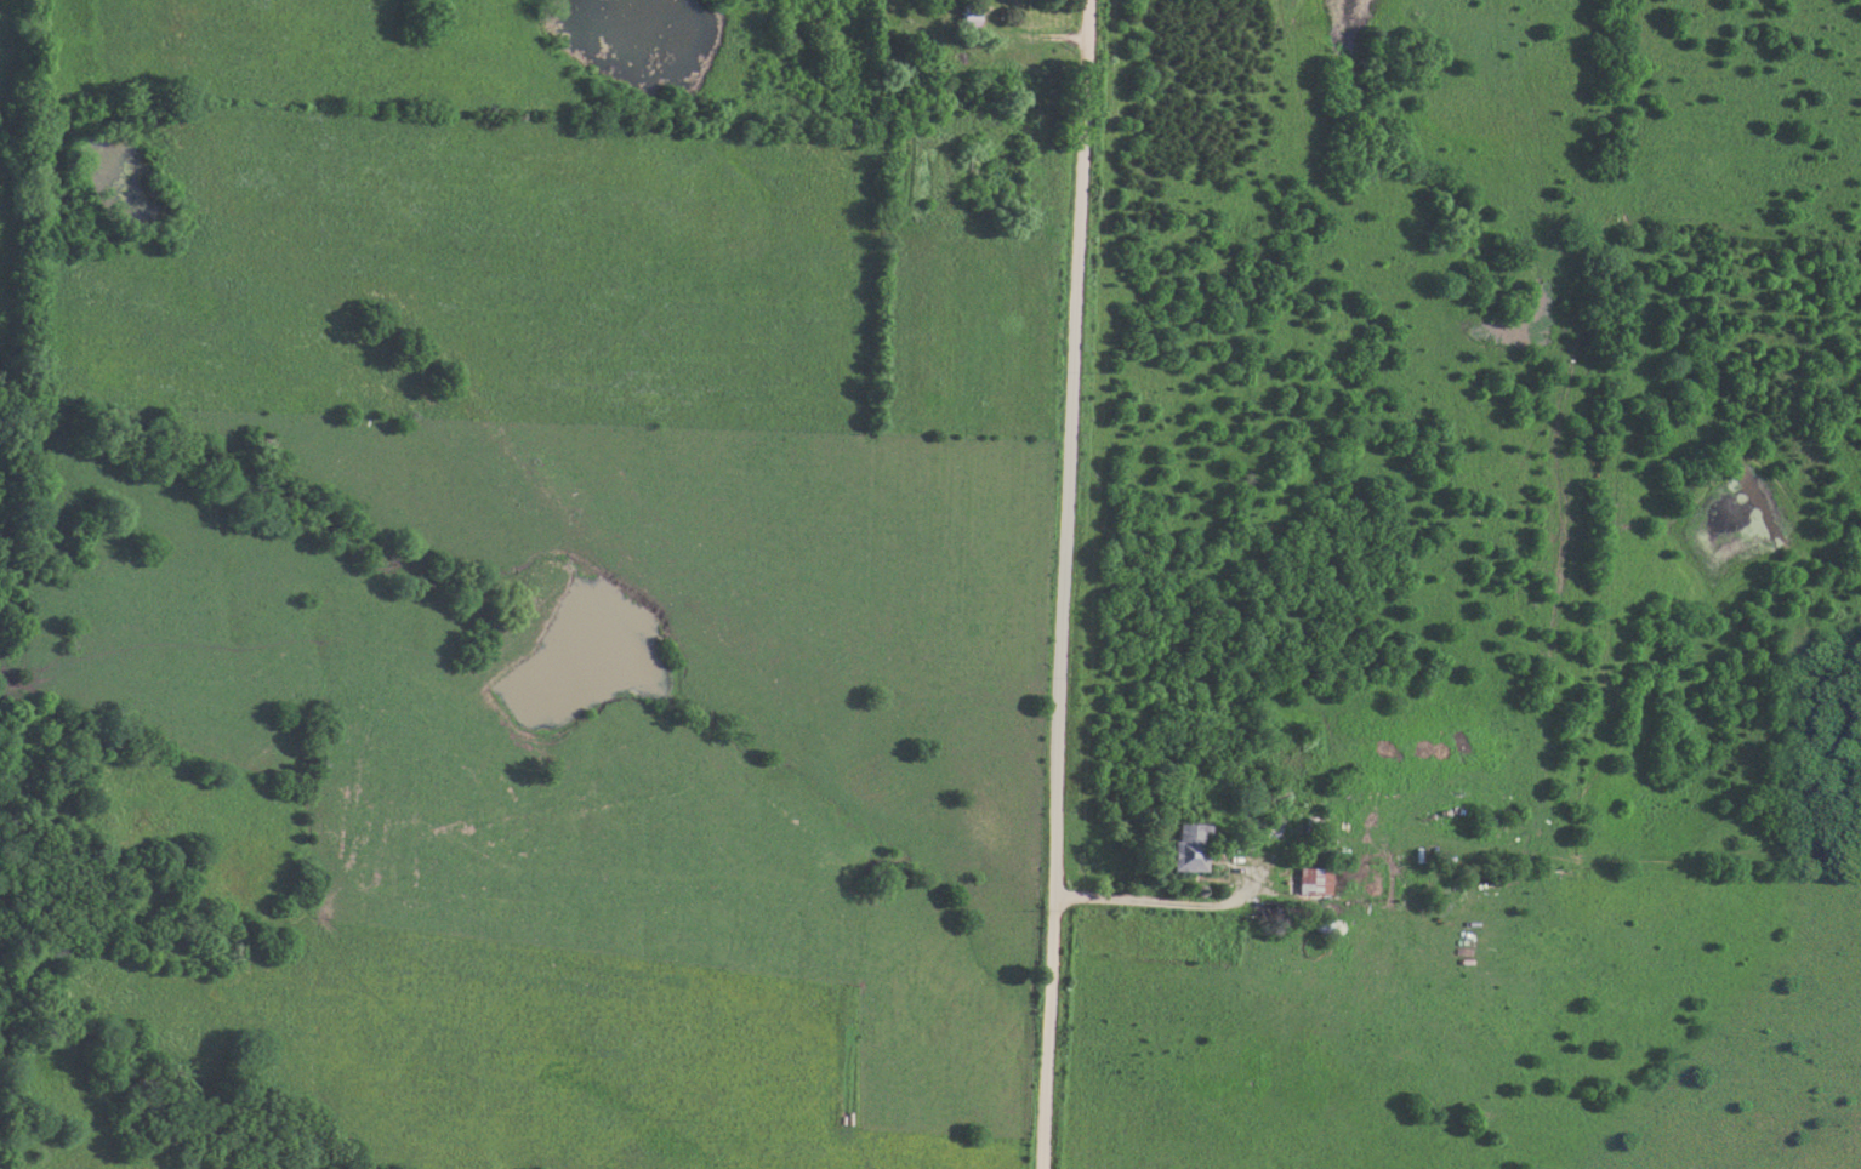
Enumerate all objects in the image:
road: (1066, 584)
building: (1184, 848)
building: (1308, 880)
road: (1160, 899)

